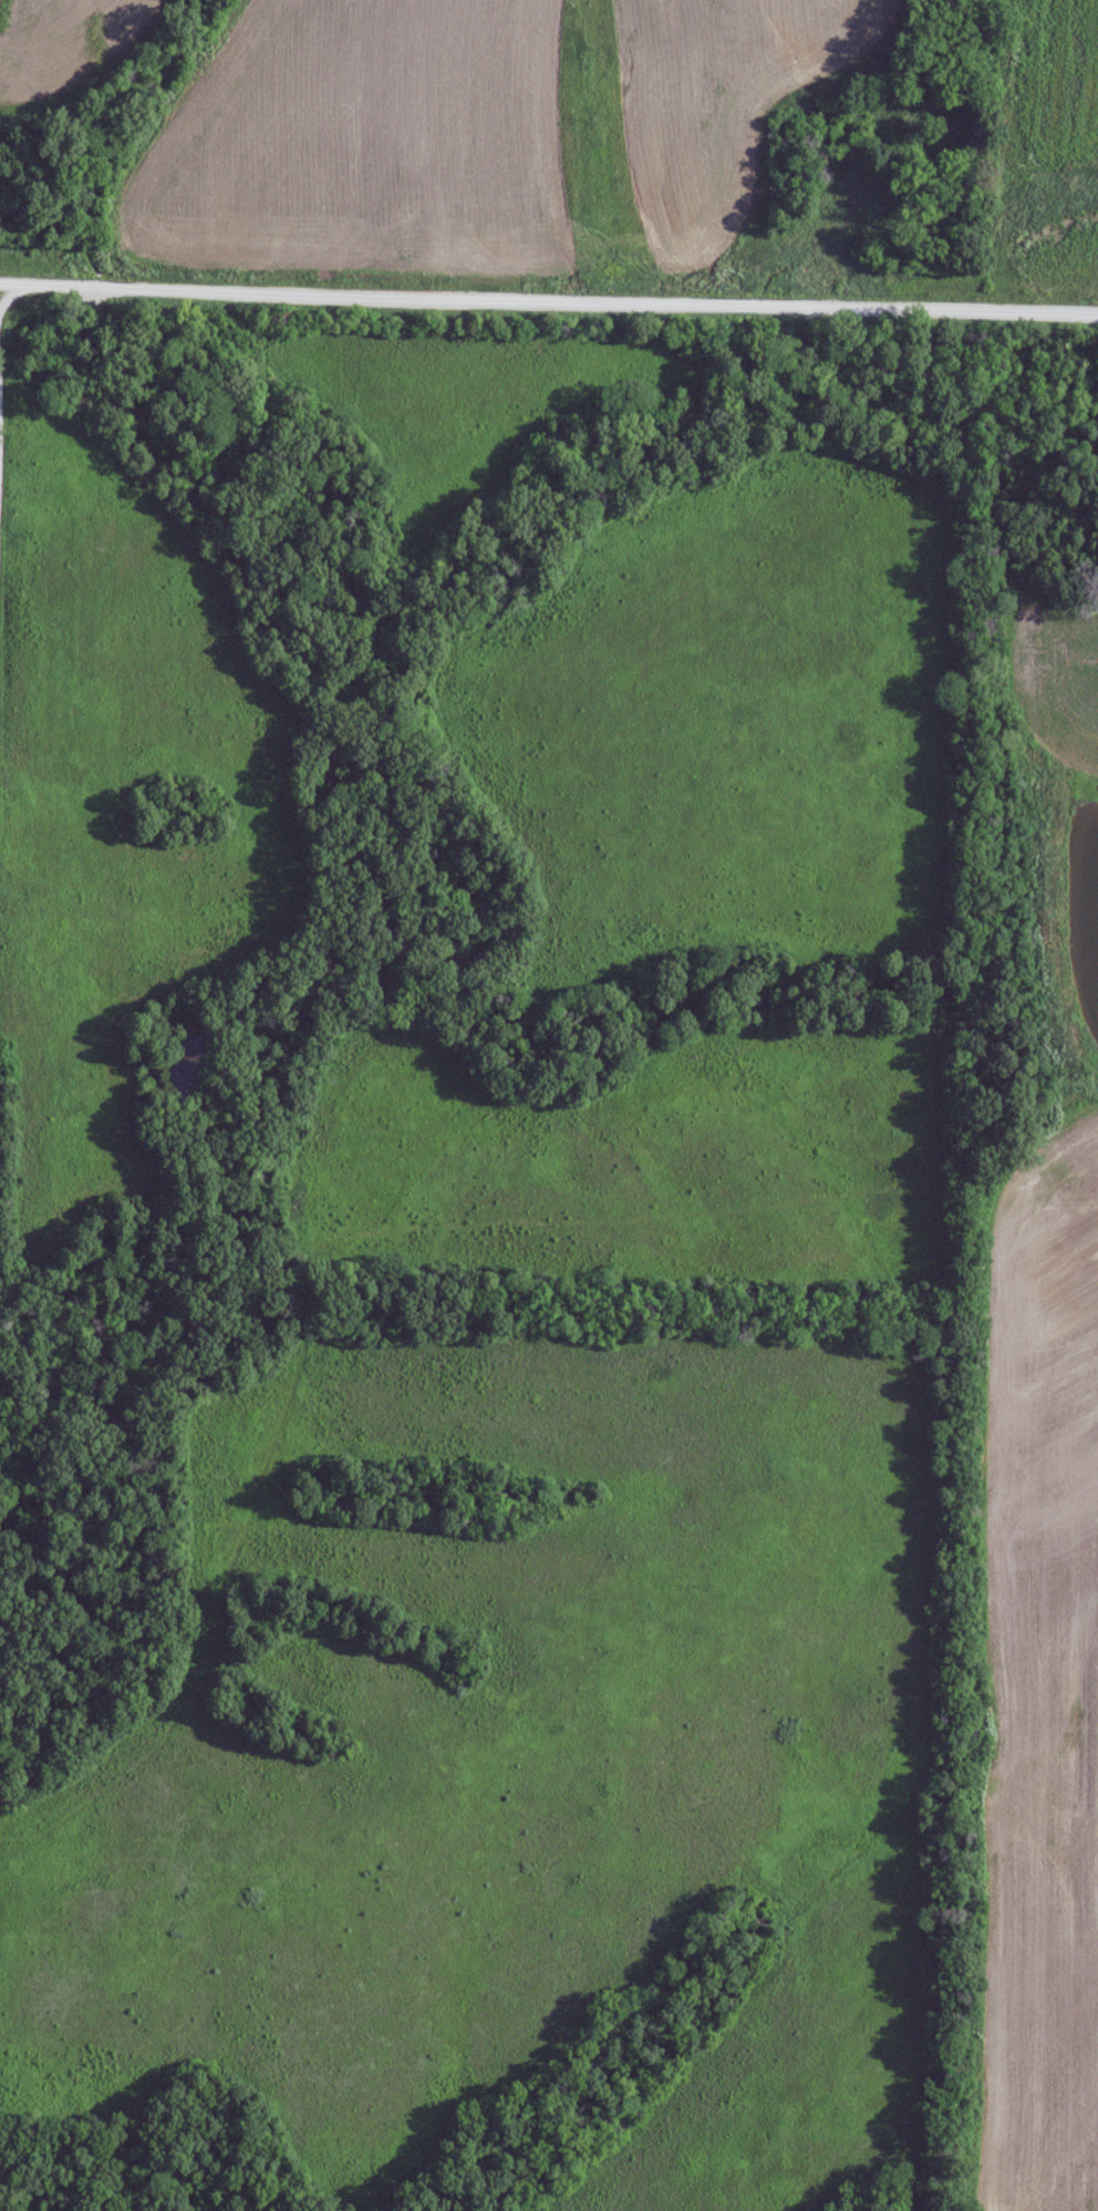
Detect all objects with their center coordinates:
road: (10, 295)
road: (549, 295)

